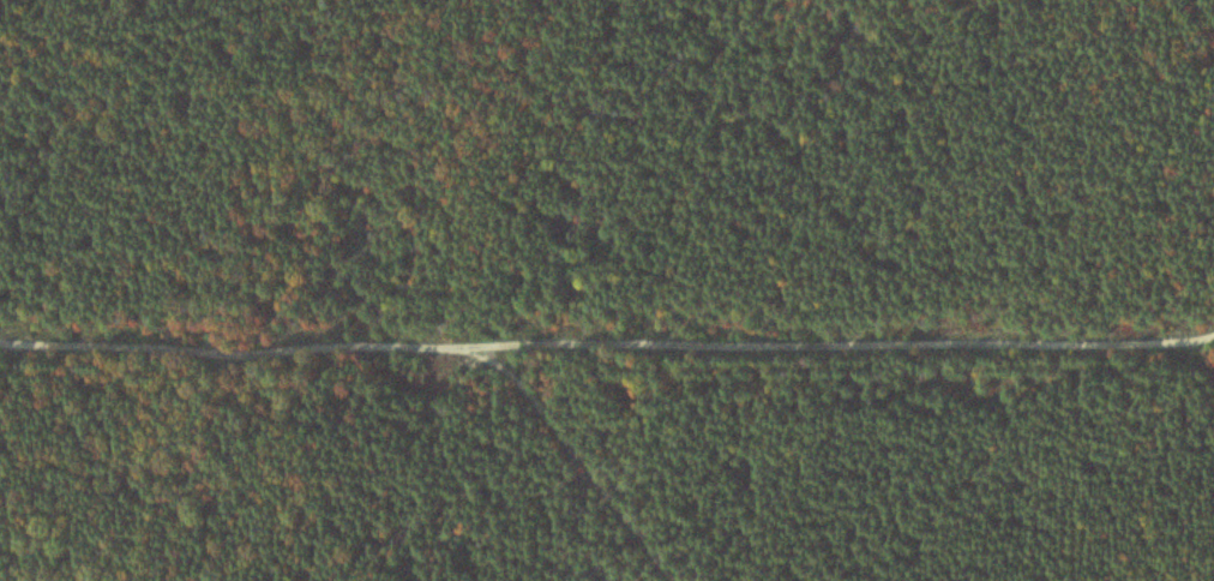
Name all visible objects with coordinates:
road: (607, 340)
road: (588, 453)
road: (924, 537)

